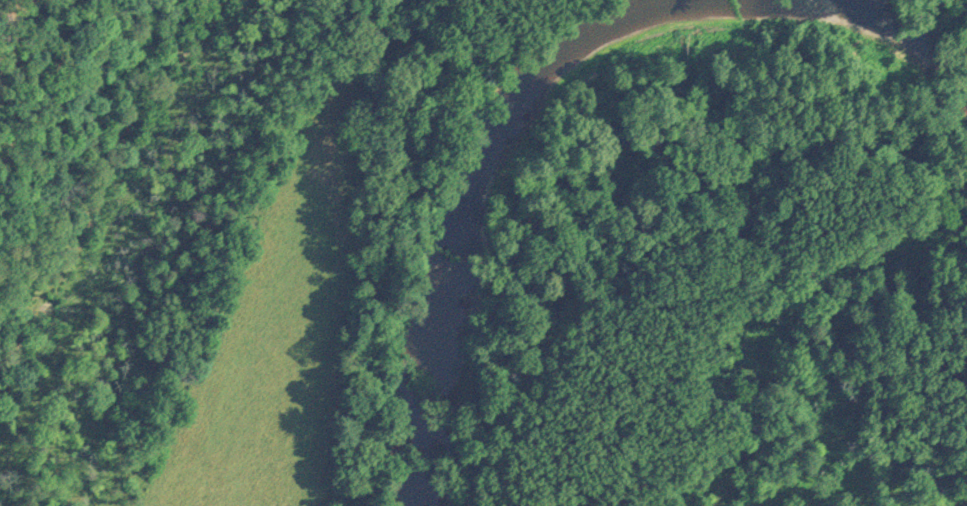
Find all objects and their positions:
river: (542, 75)

